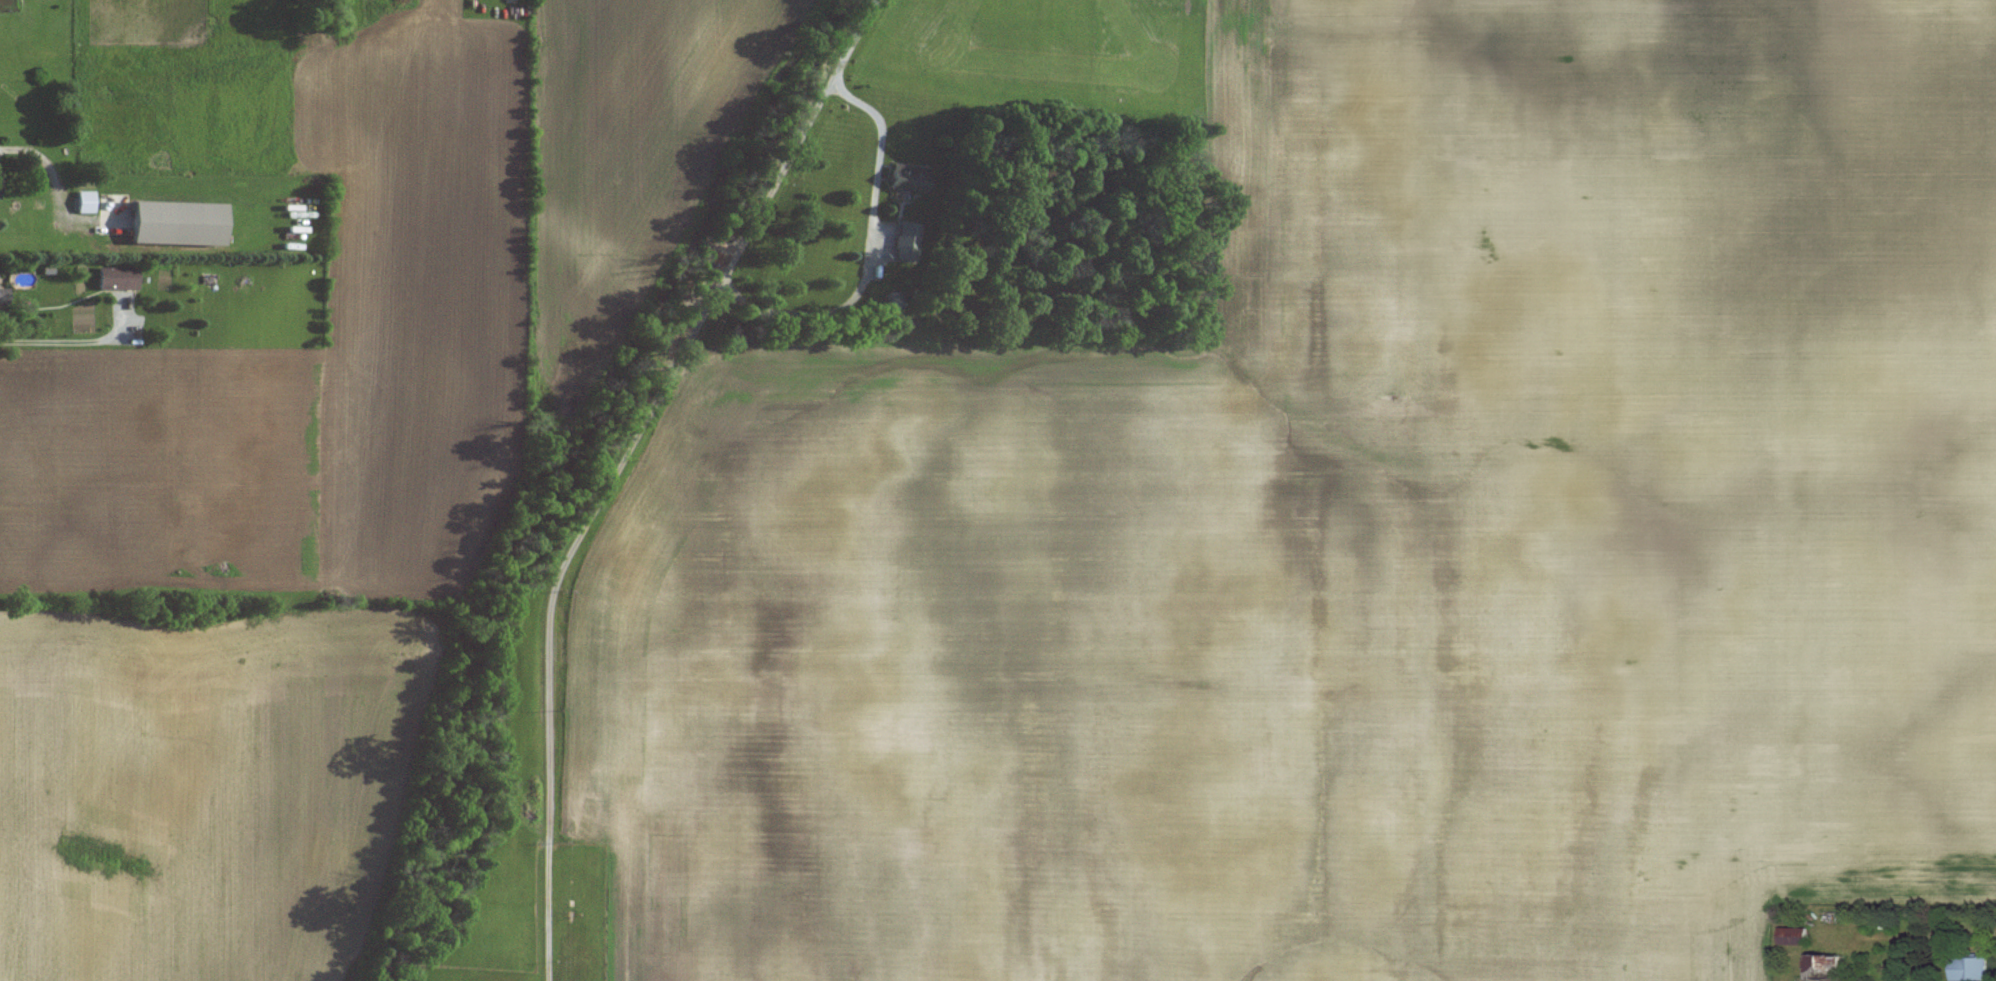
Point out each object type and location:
road: (16, 149)
building: (908, 177)
building: (0, 181)
building: (85, 202)
building: (177, 224)
building: (907, 241)
road: (866, 249)
building: (117, 279)
building: (4, 297)
road: (73, 342)
road: (617, 464)
road: (1967, 927)
building: (1795, 936)
building: (1823, 966)
building: (1972, 969)

